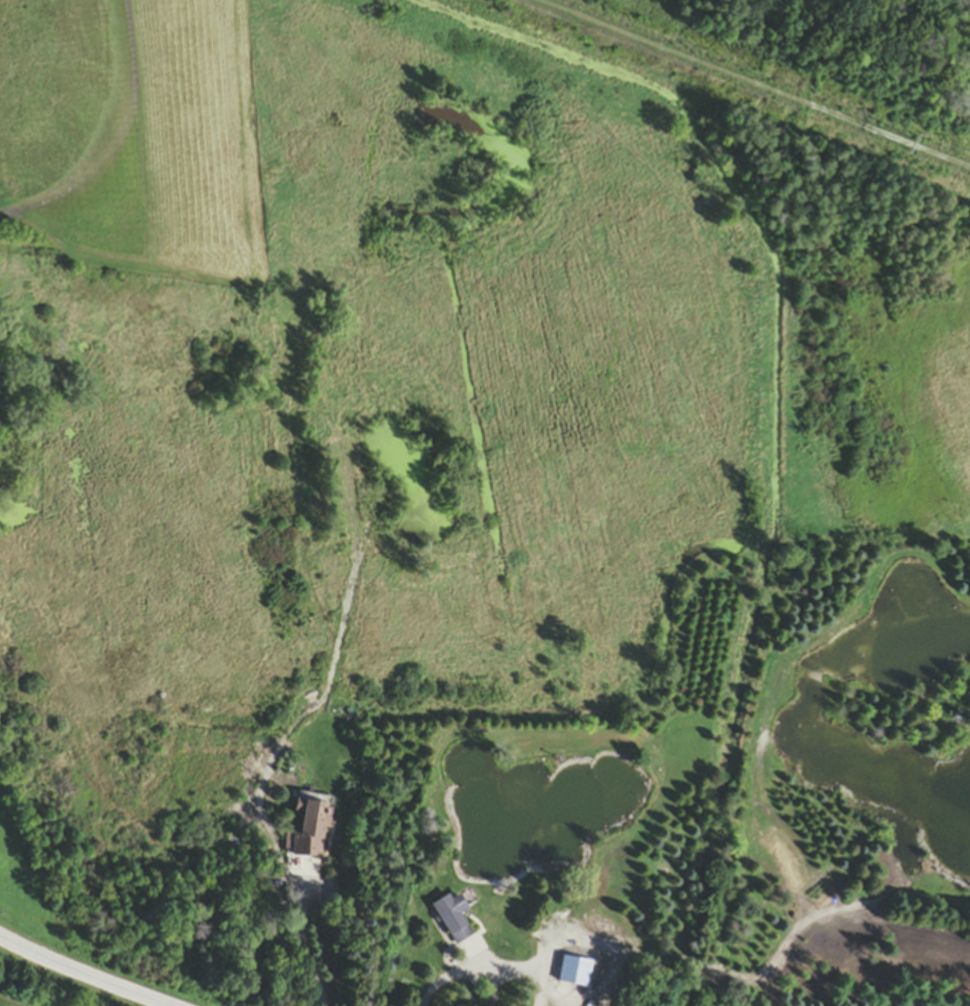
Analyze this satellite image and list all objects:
power tower: (915, 148)
building: (309, 833)
building: (453, 919)
road: (305, 939)
road: (490, 968)
road: (80, 973)
building: (575, 973)

